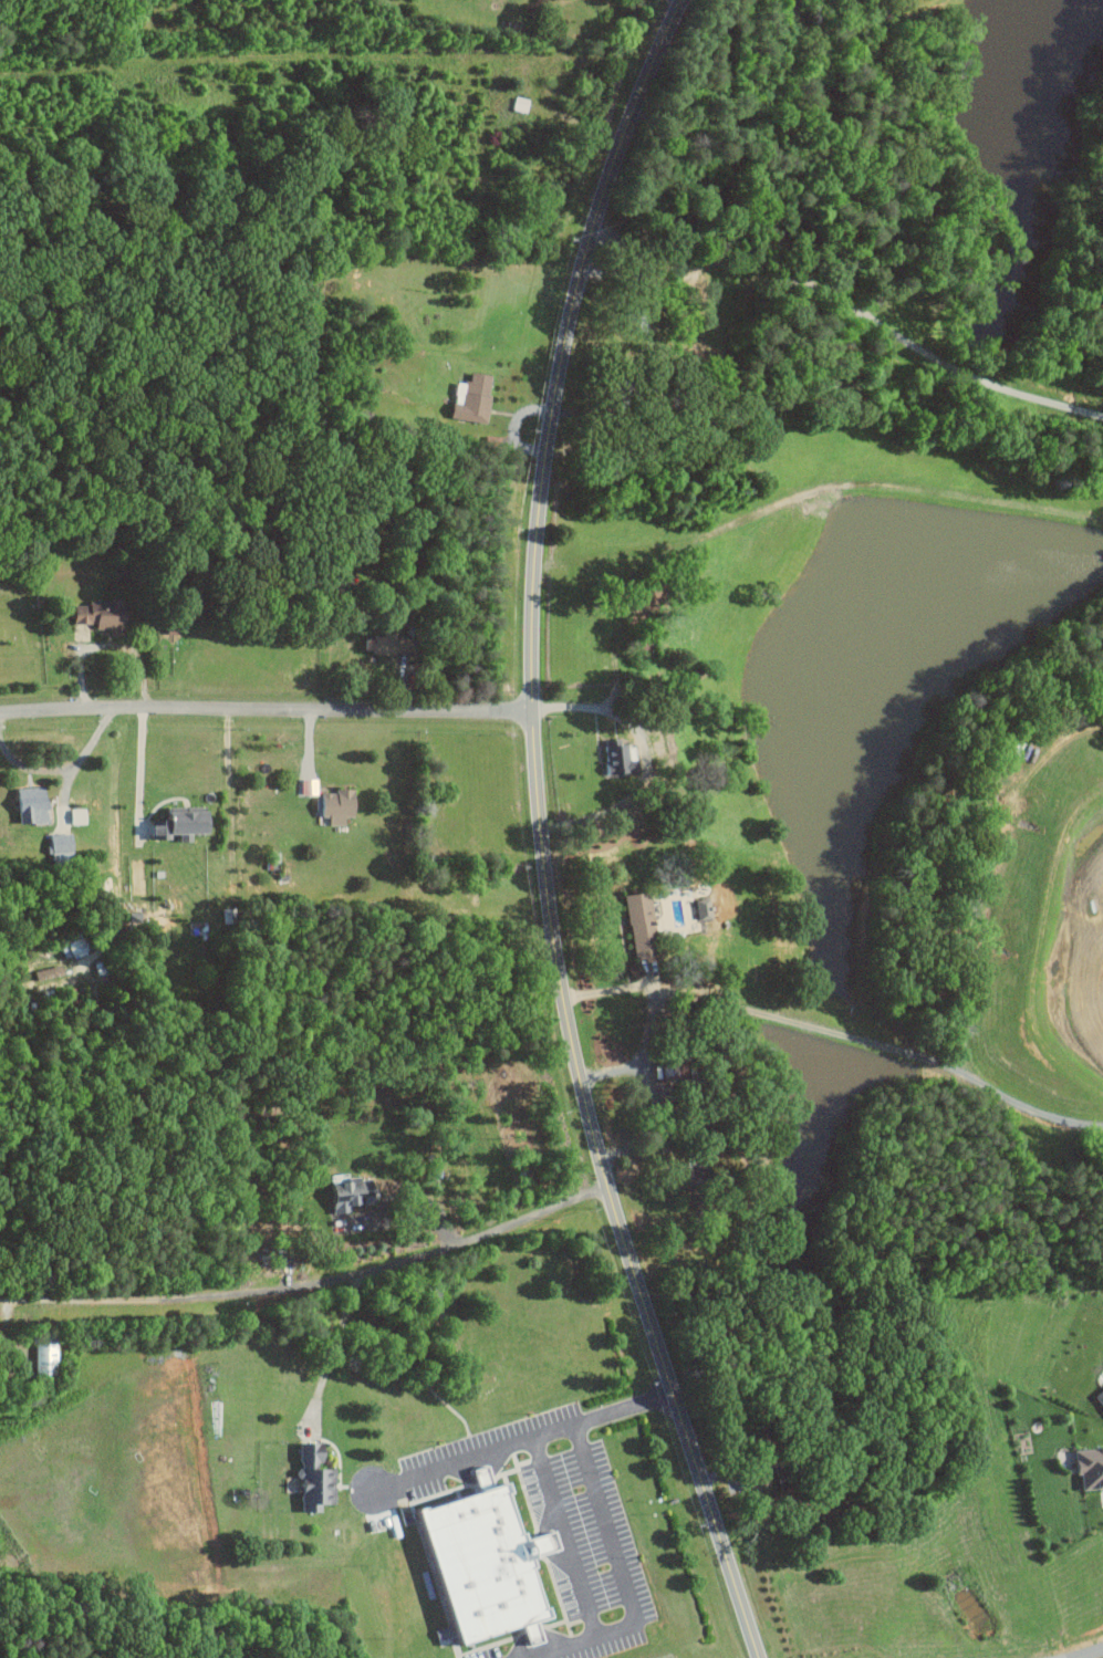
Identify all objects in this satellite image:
road: (677, 1)
road: (266, 55)
road: (533, 64)
road: (736, 70)
building: (522, 103)
park: (299, 142)
road: (852, 310)
building: (475, 397)
building: (101, 614)
road: (107, 644)
building: (389, 644)
road: (602, 702)
road: (264, 708)
building: (615, 755)
road: (62, 769)
road: (138, 770)
building: (34, 803)
building: (341, 805)
building: (162, 828)
road: (540, 832)
building: (230, 915)
building: (646, 925)
building: (74, 948)
building: (51, 972)
building: (353, 1193)
road: (311, 1281)
road: (334, 1344)
building: (1101, 1398)
road: (523, 1441)
building: (1092, 1468)
building: (319, 1478)
road: (564, 1536)
building: (492, 1563)
road: (623, 1577)
road: (1096, 1655)
road: (539, 1656)

